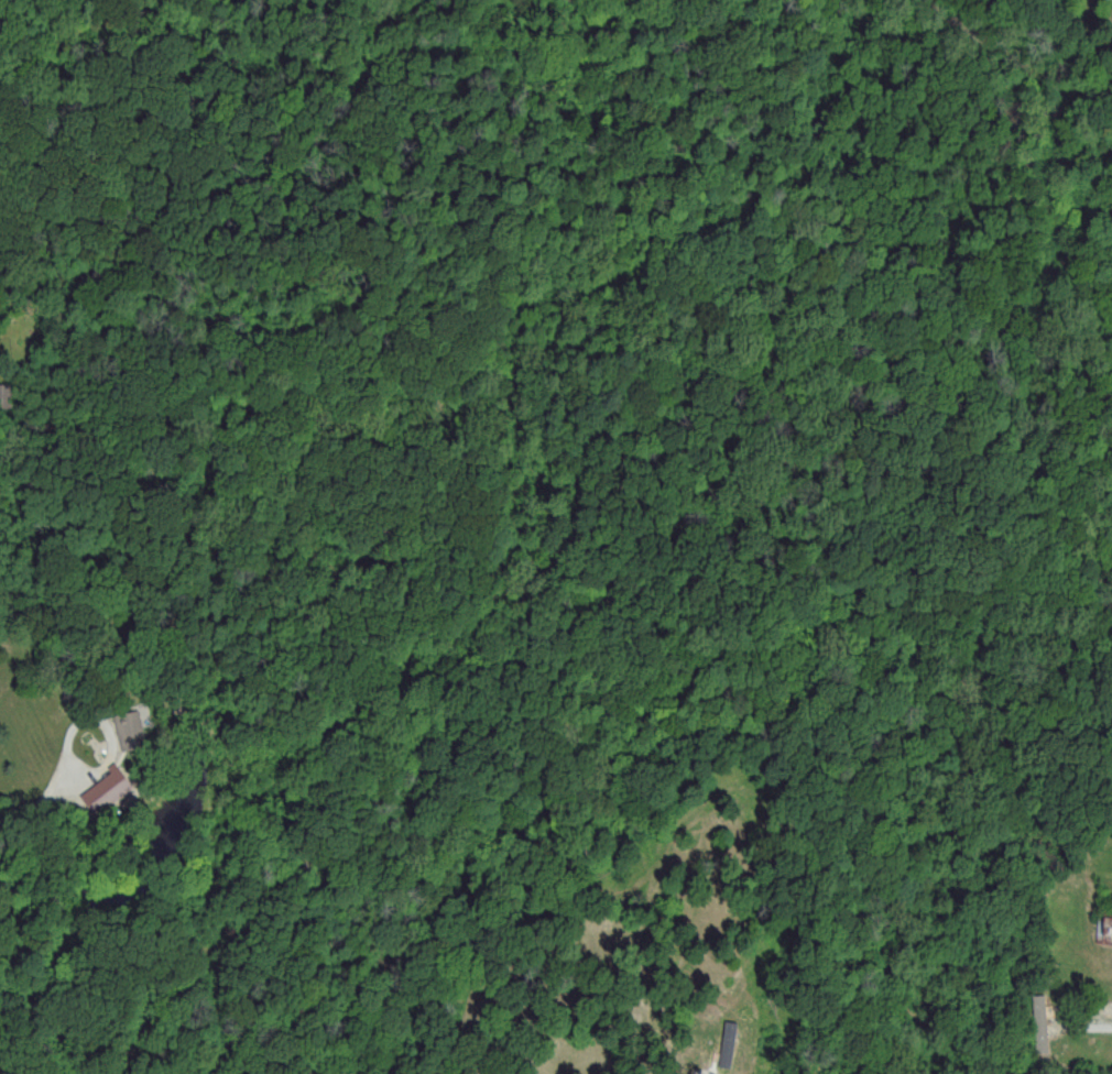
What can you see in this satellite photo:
building: (103, 789)
road: (58, 794)
building: (1042, 1019)

